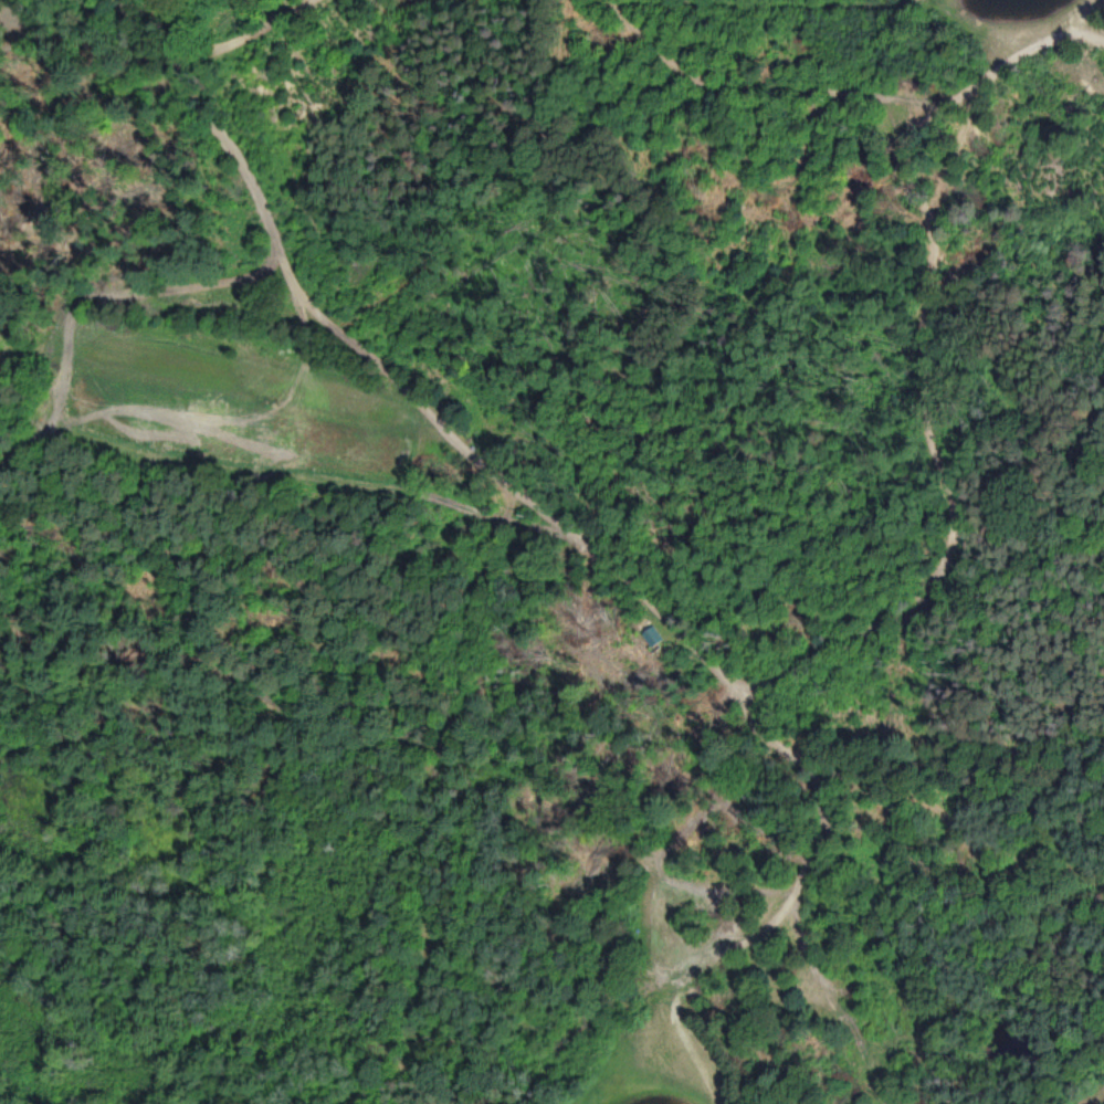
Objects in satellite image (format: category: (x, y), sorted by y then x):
road: (902, 618)

